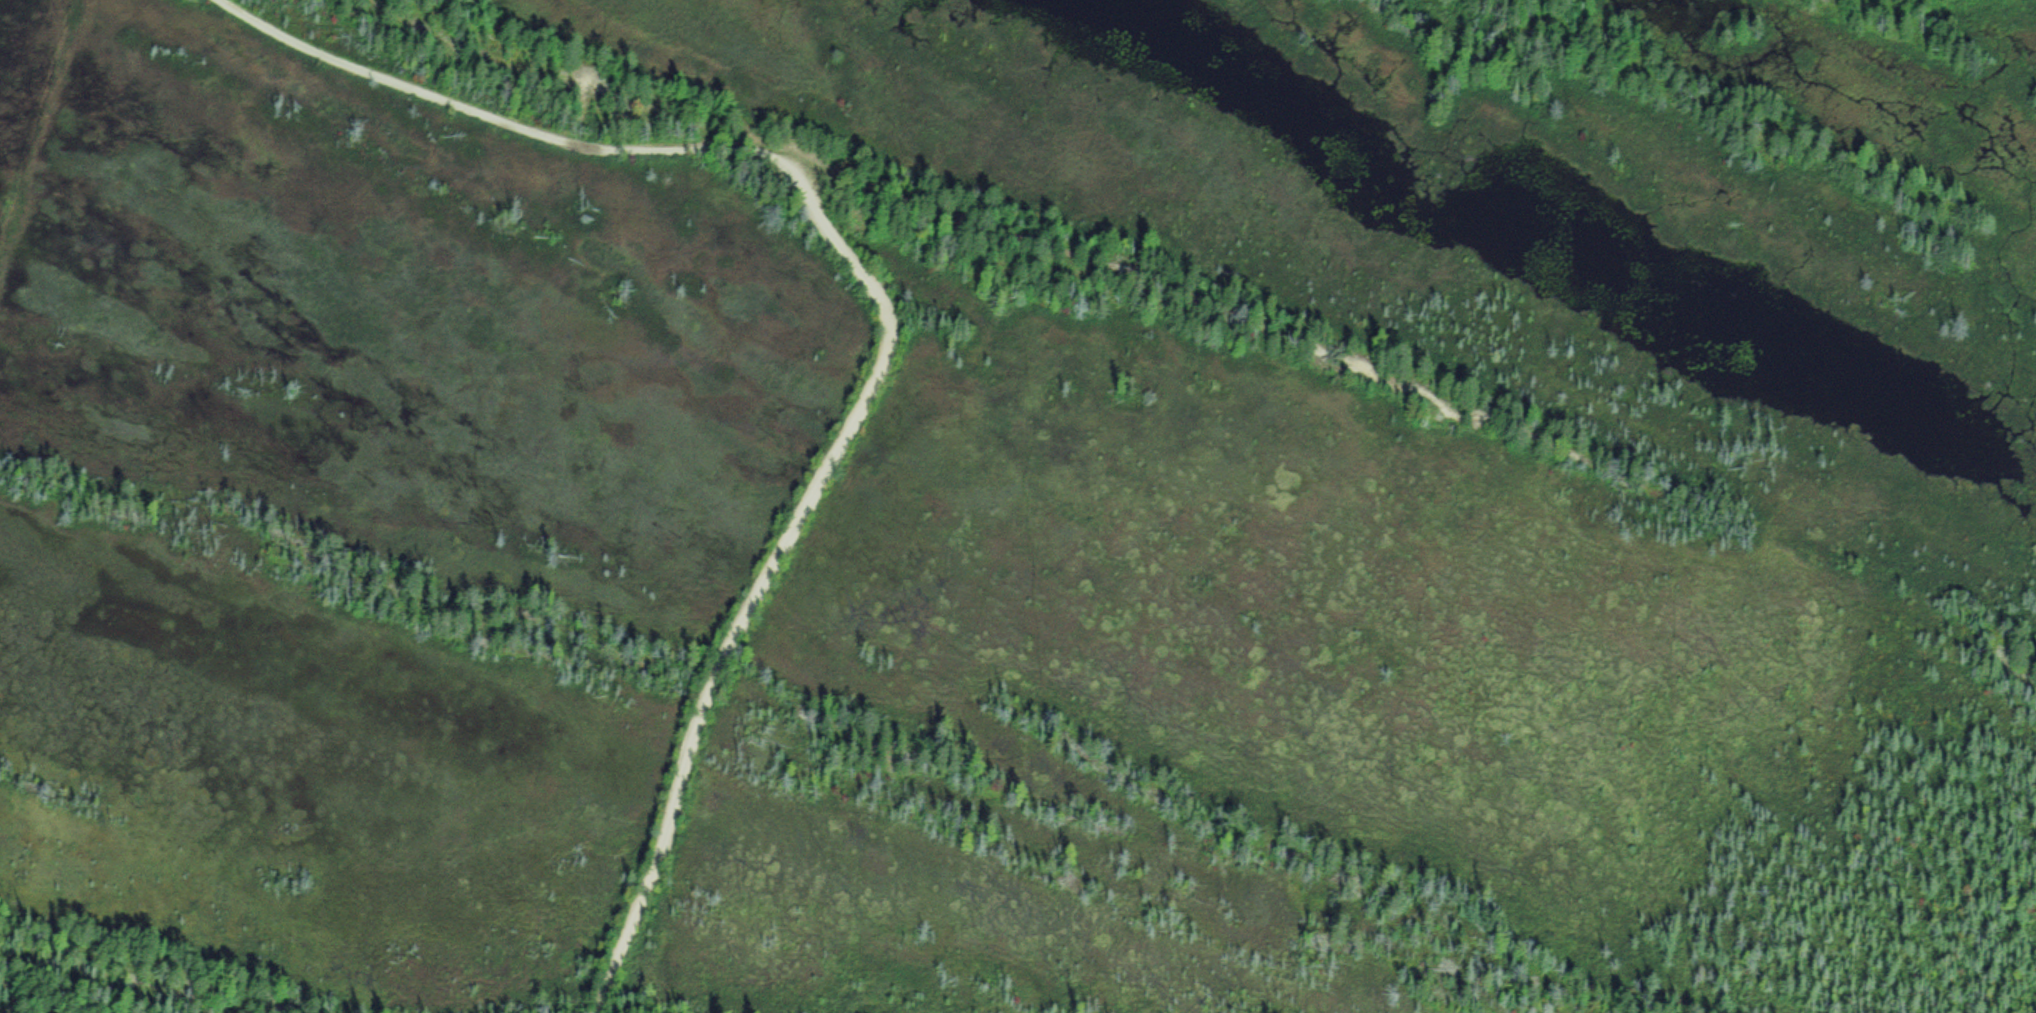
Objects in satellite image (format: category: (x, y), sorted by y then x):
road: (878, 306)

